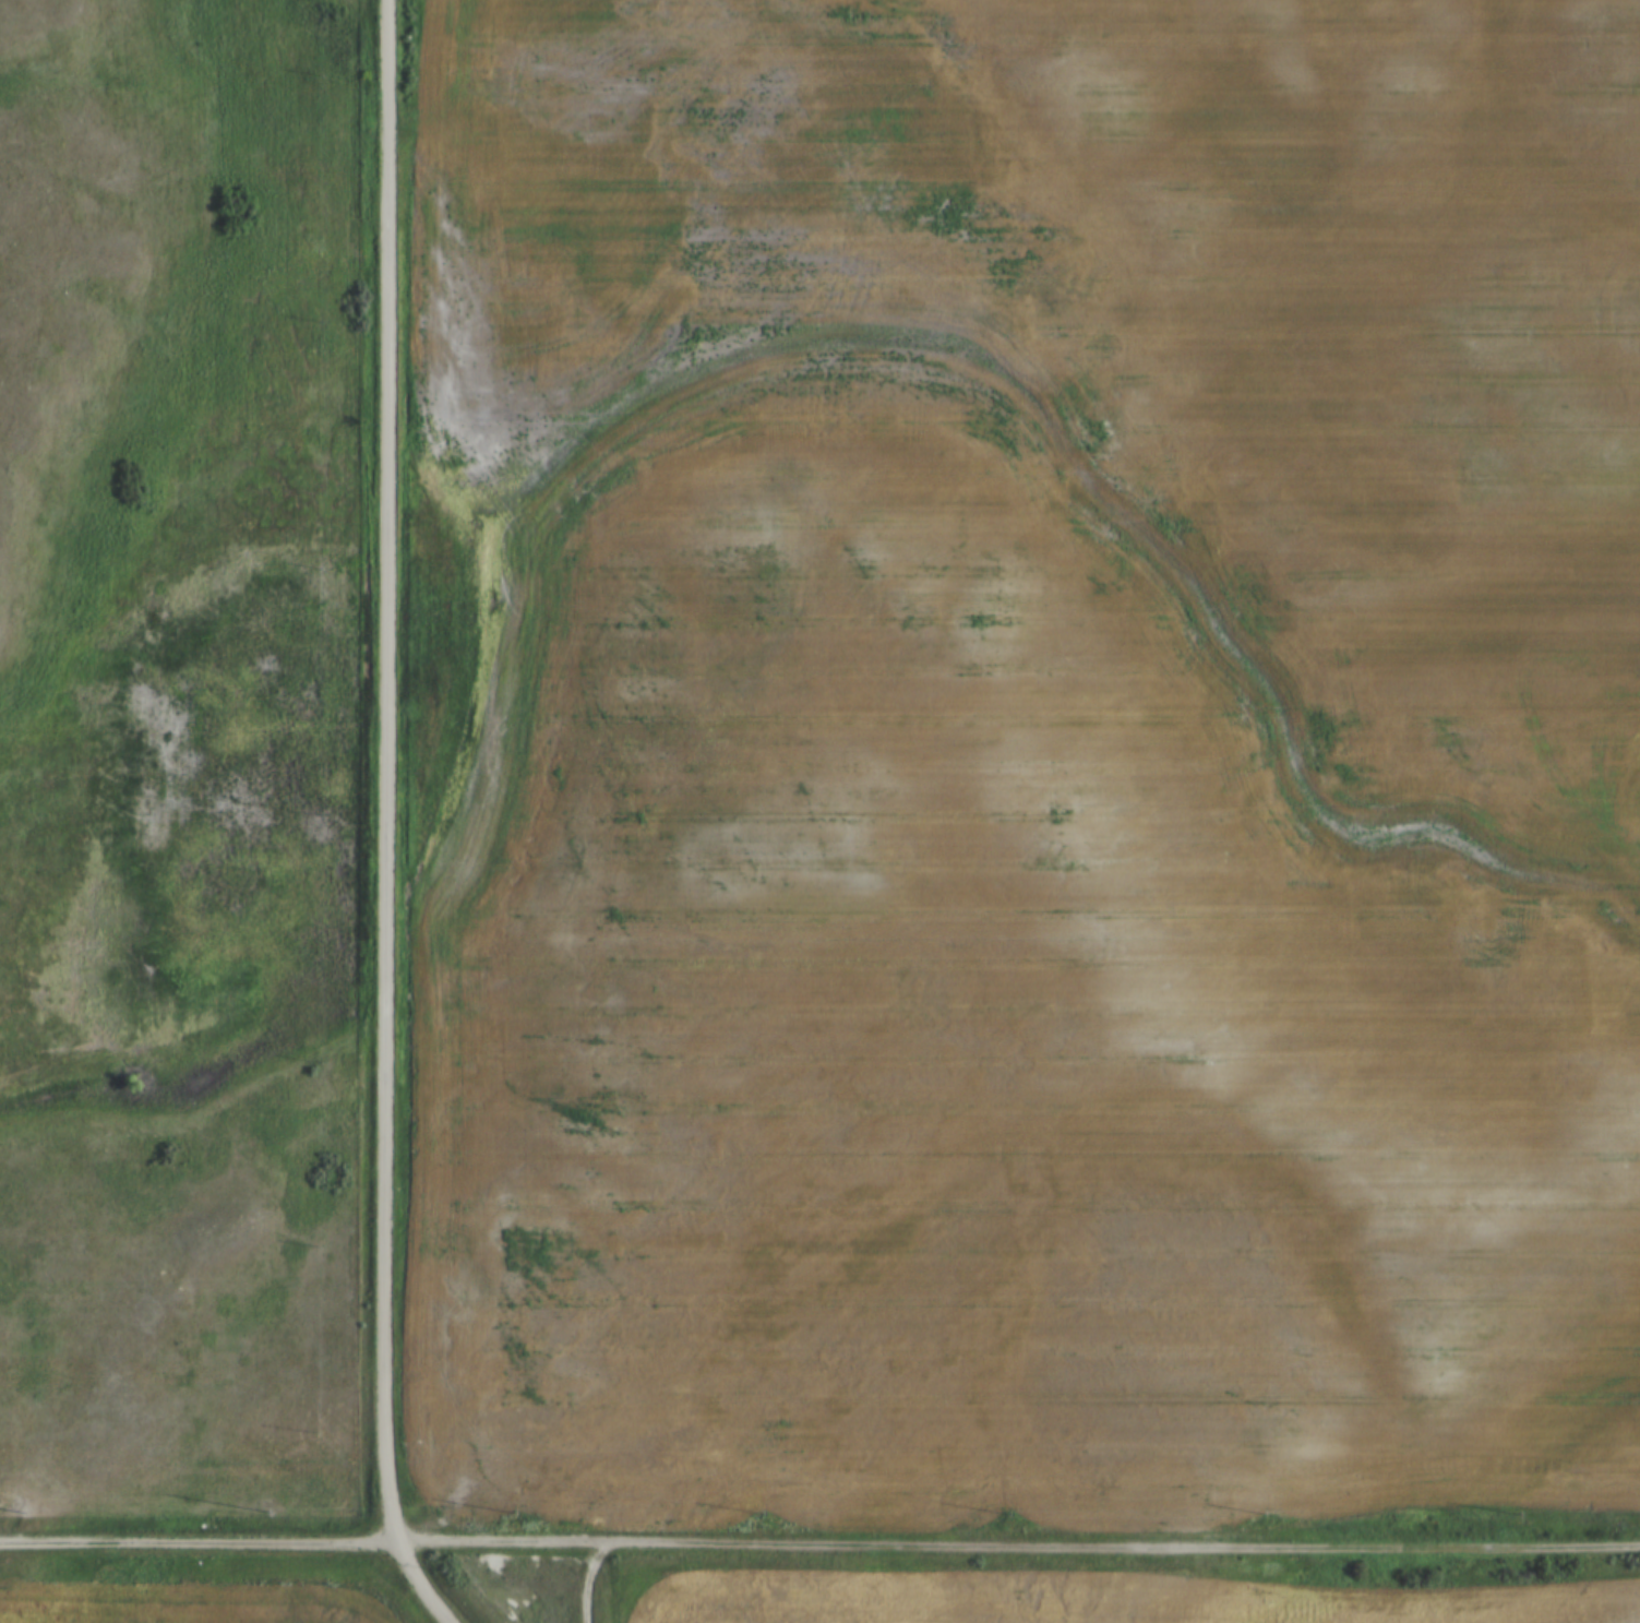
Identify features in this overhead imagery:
road: (387, 771)
road: (199, 1542)
road: (1018, 1547)
road: (590, 1579)
road: (419, 1584)

